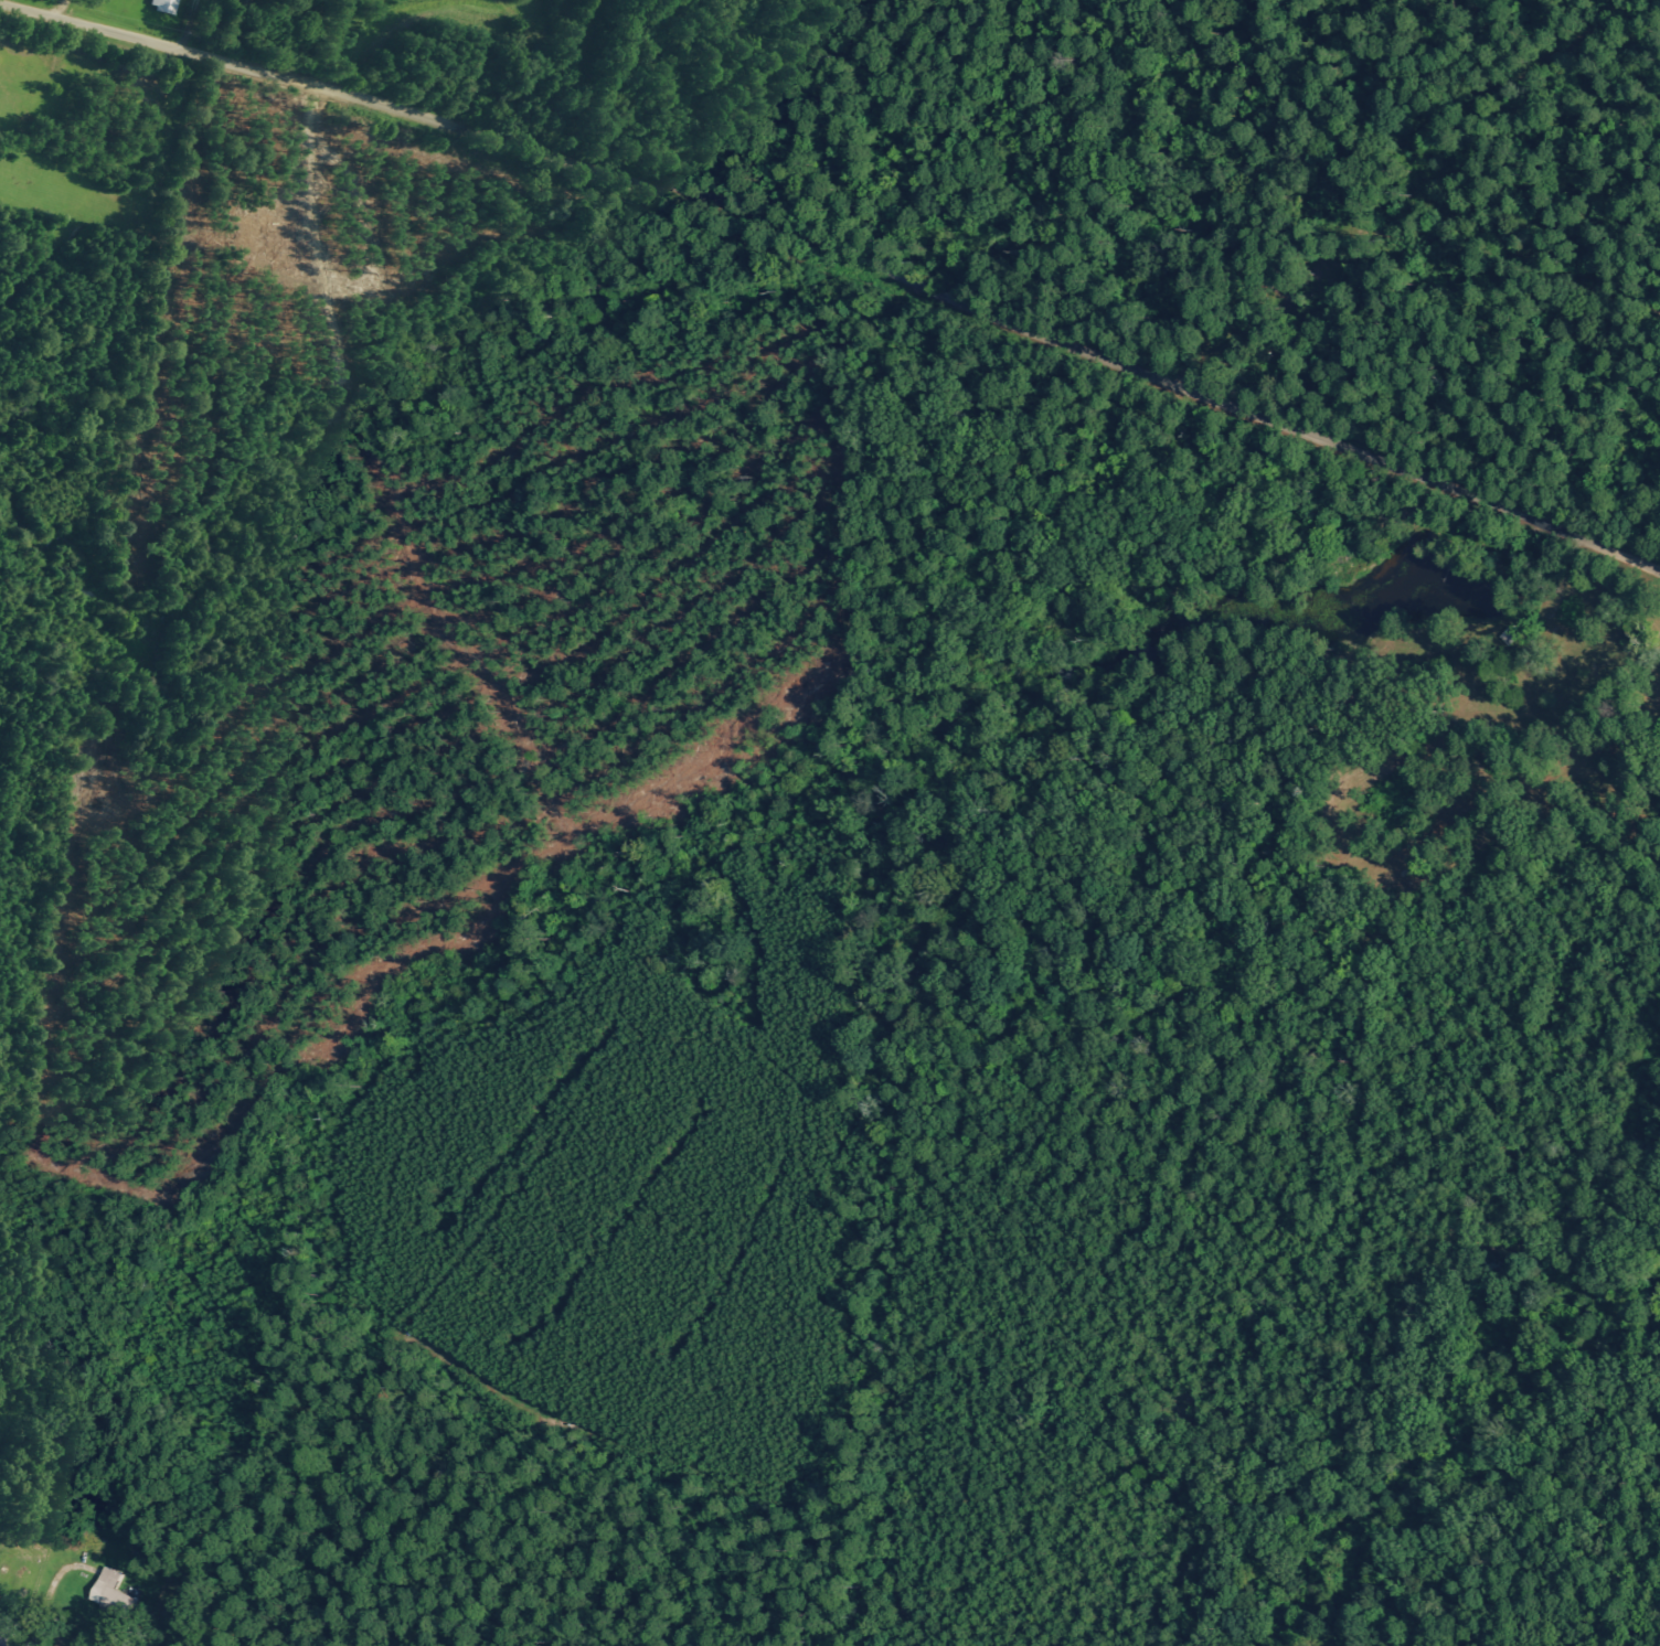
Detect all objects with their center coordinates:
building: (160, 6)
road: (839, 275)
building: (109, 1593)

